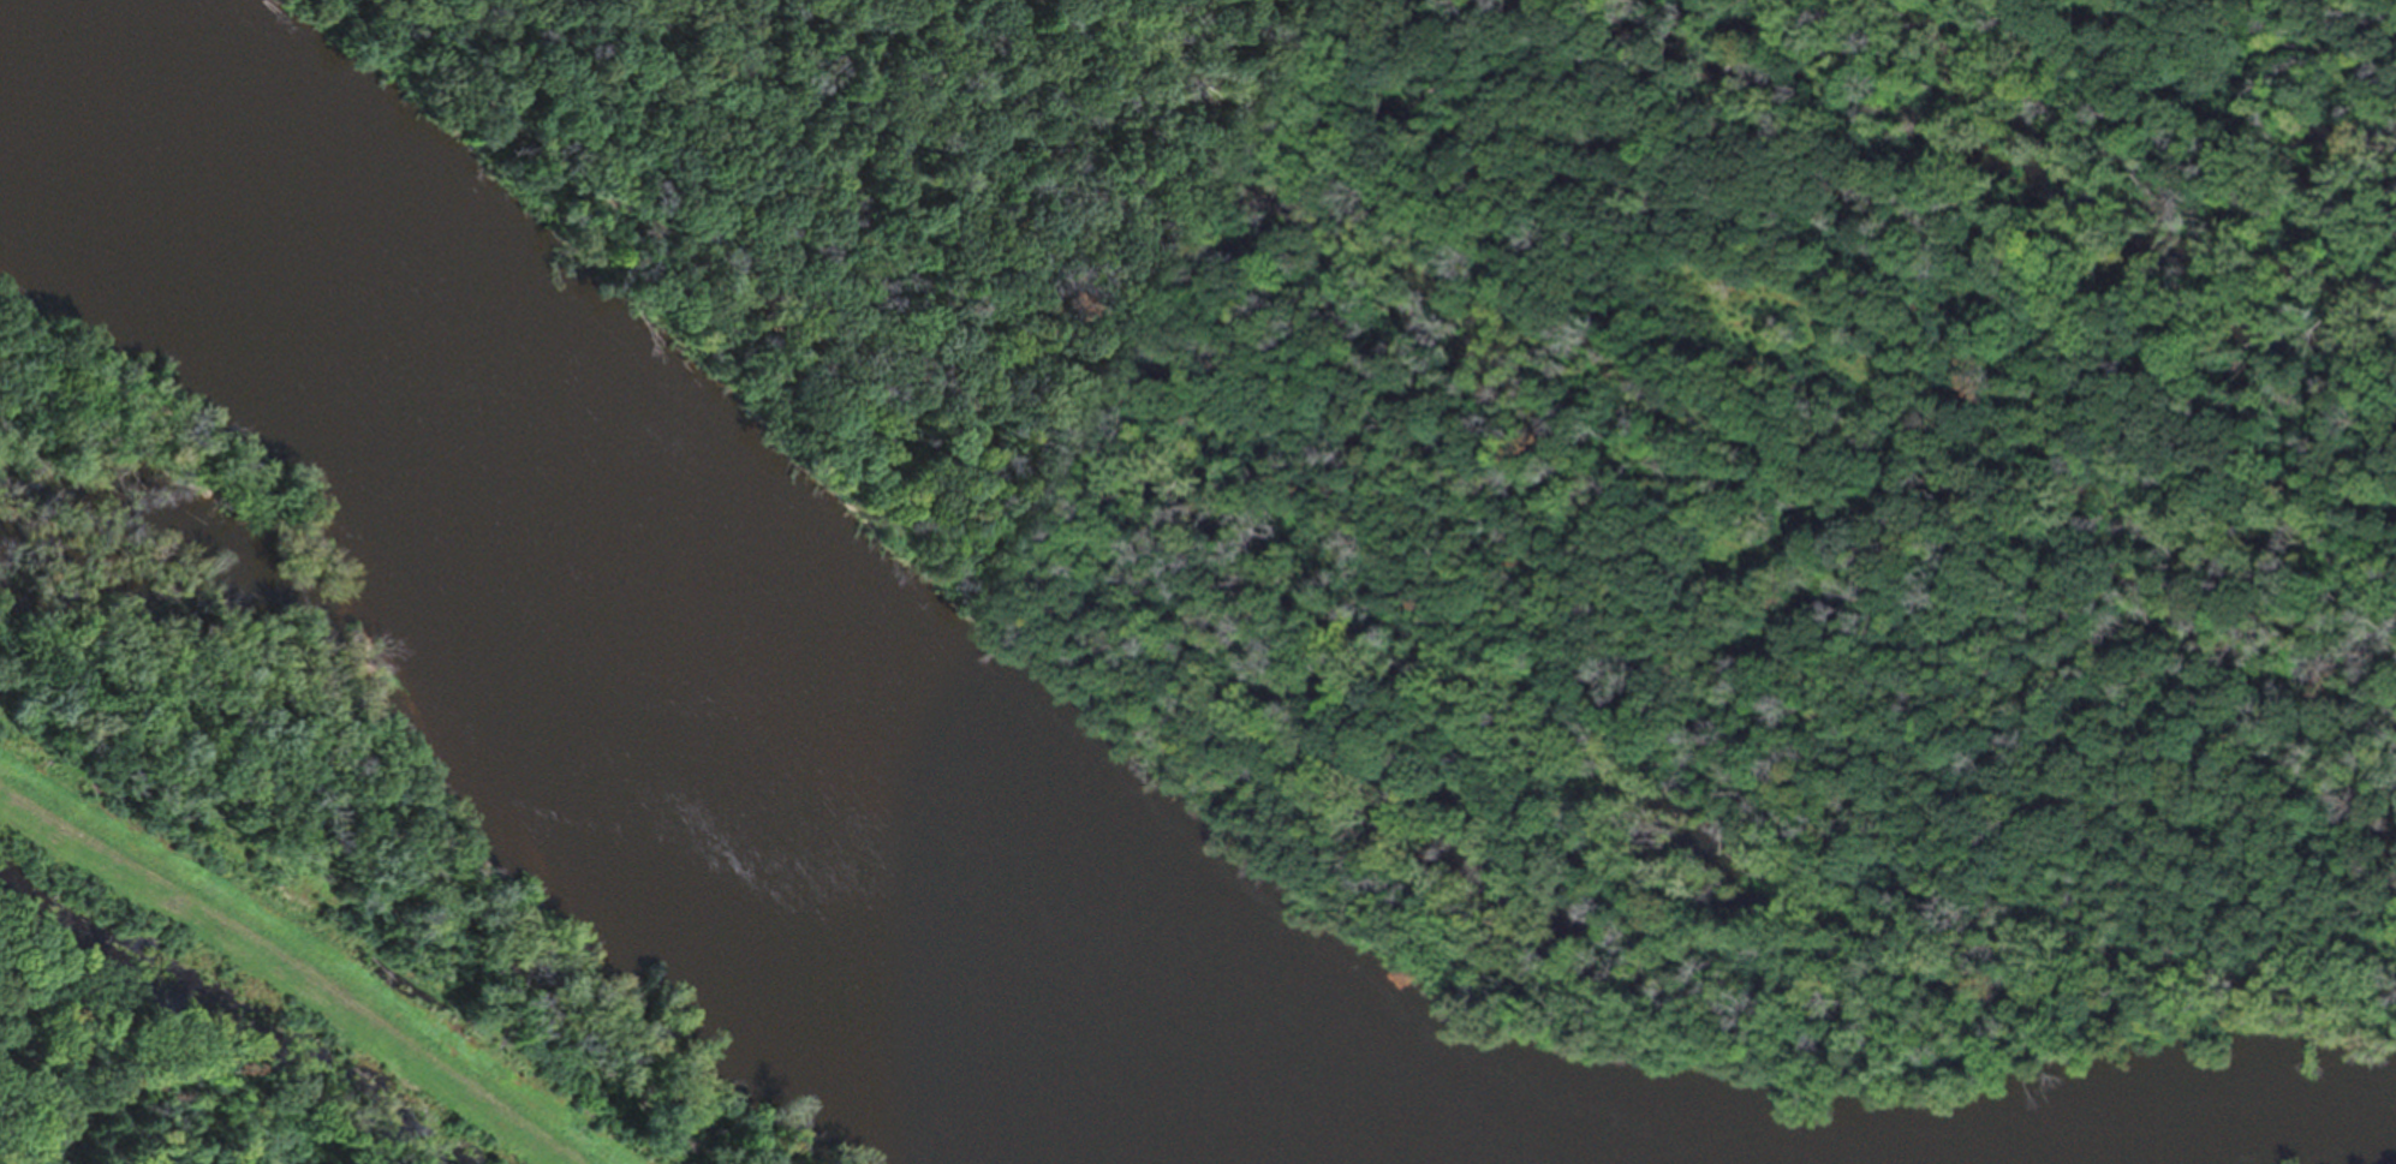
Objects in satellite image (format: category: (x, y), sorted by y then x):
river: (622, 578)
road: (290, 971)

